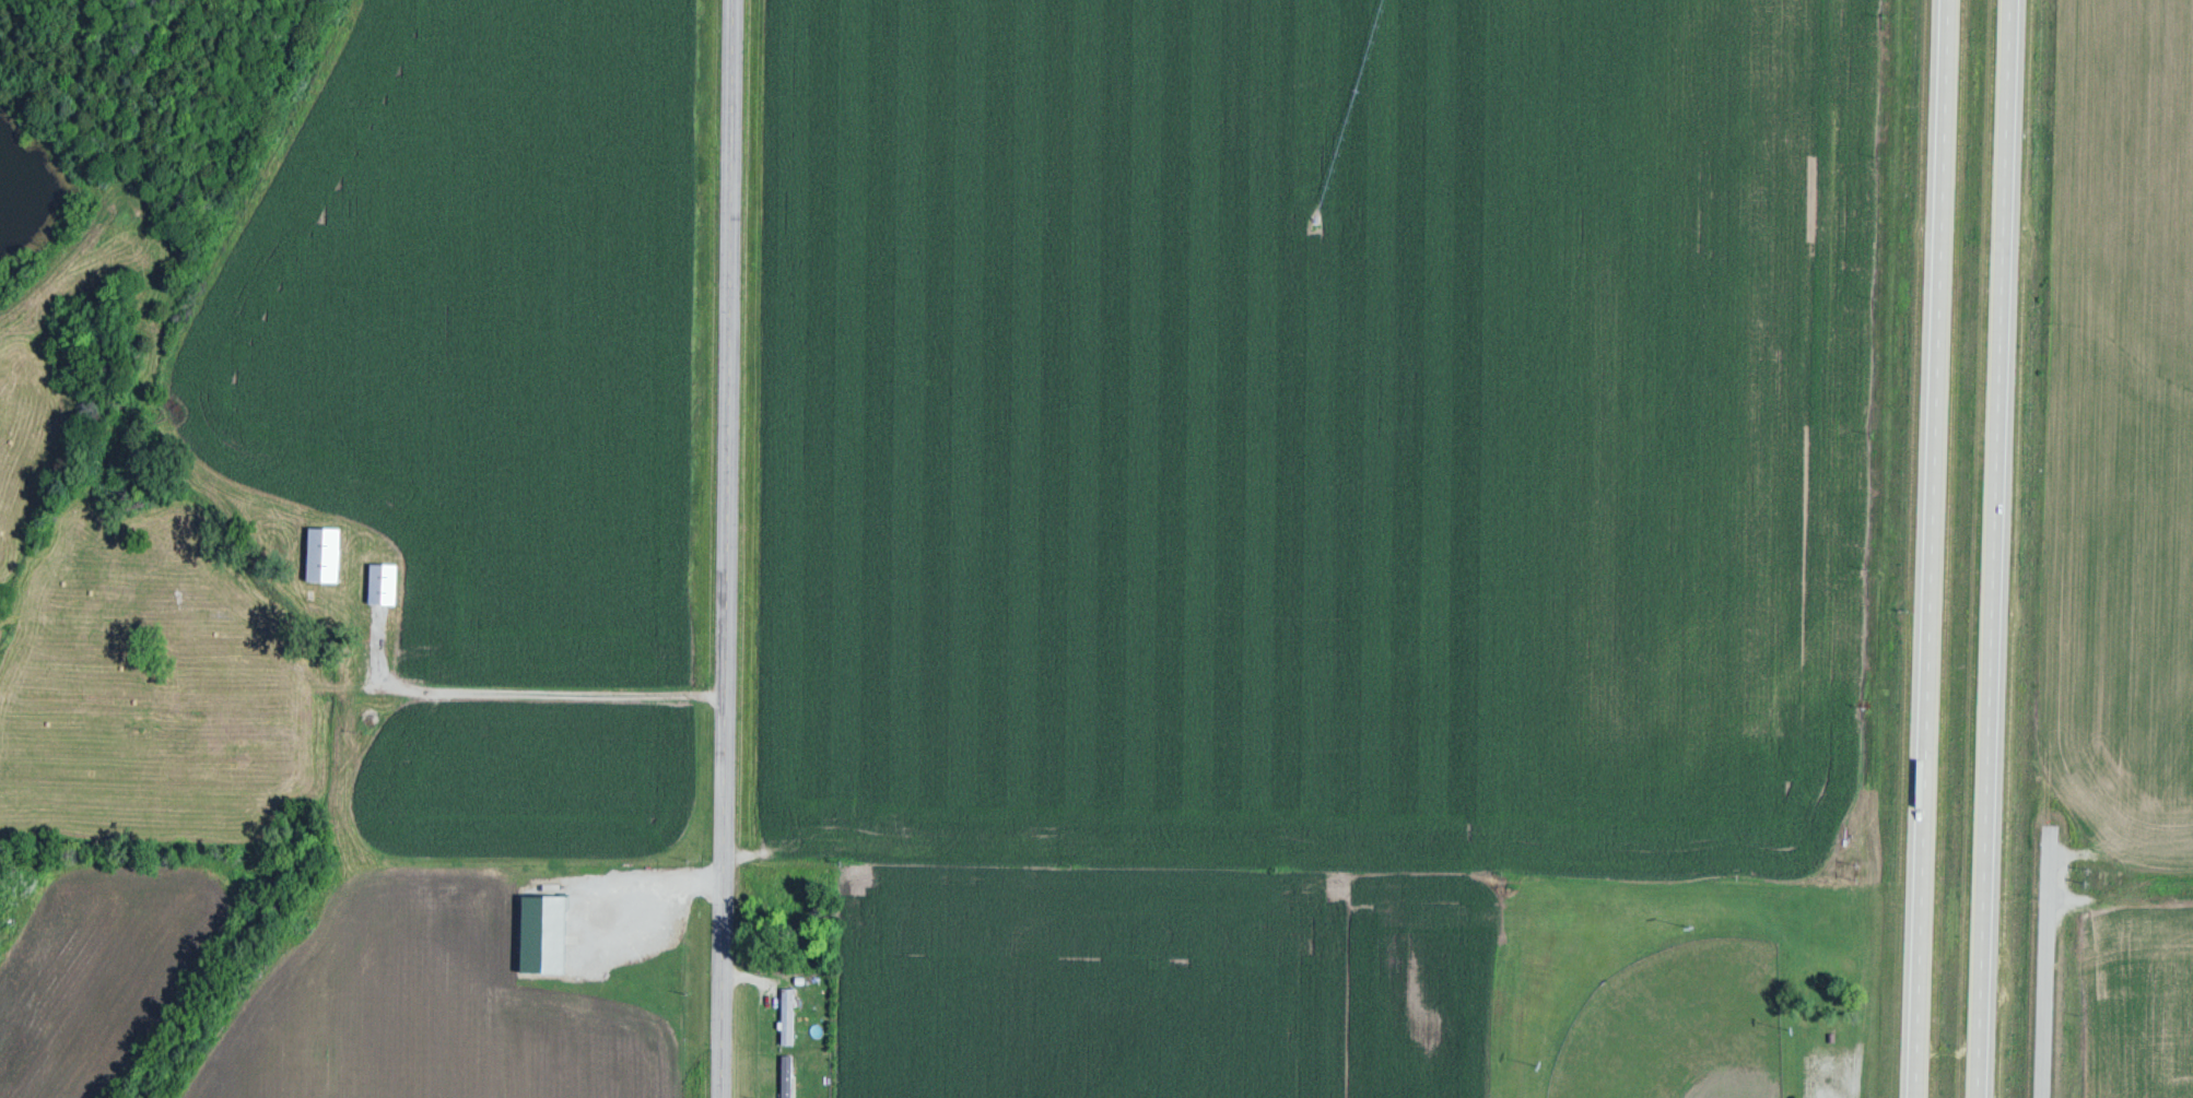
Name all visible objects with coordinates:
road: (726, 548)
road: (1938, 548)
road: (1992, 548)
building: (328, 552)
building: (387, 581)
road: (2054, 928)
building: (788, 1014)
park: (1679, 1026)
building: (787, 1075)
road: (1844, 1079)

